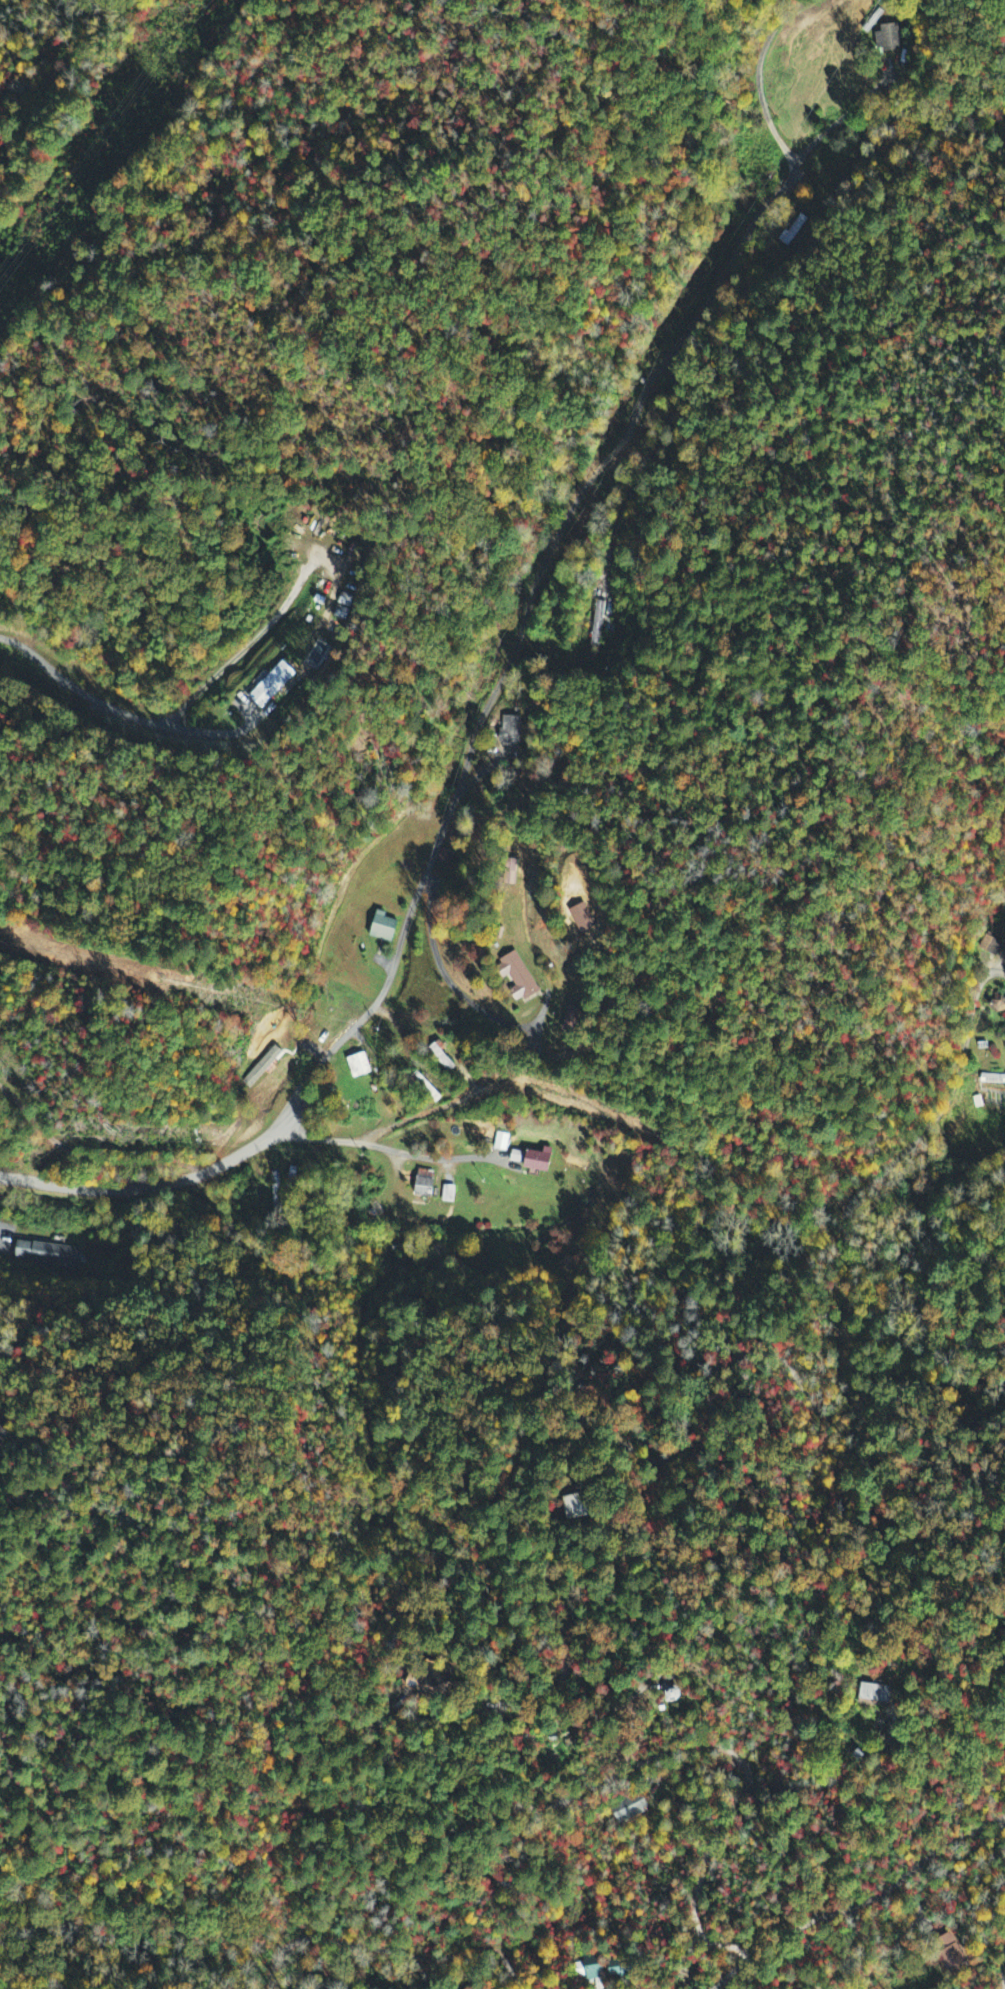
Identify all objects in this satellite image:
building: (894, 36)
road: (758, 76)
road: (838, 120)
building: (794, 228)
road: (528, 610)
building: (273, 686)
road: (116, 711)
building: (509, 731)
building: (446, 859)
building: (384, 928)
building: (991, 947)
building: (518, 979)
building: (998, 1005)
building: (359, 1066)
building: (992, 1080)
road: (292, 1105)
building: (501, 1143)
road: (383, 1147)
building: (517, 1157)
building: (540, 1161)
road: (142, 1187)
building: (424, 1187)
building: (449, 1194)
building: (49, 1254)
road: (542, 1573)
building: (418, 1683)
building: (877, 1695)
building: (629, 1809)
road: (389, 1948)
road: (1004, 1954)
road: (734, 1968)
building: (588, 1969)

